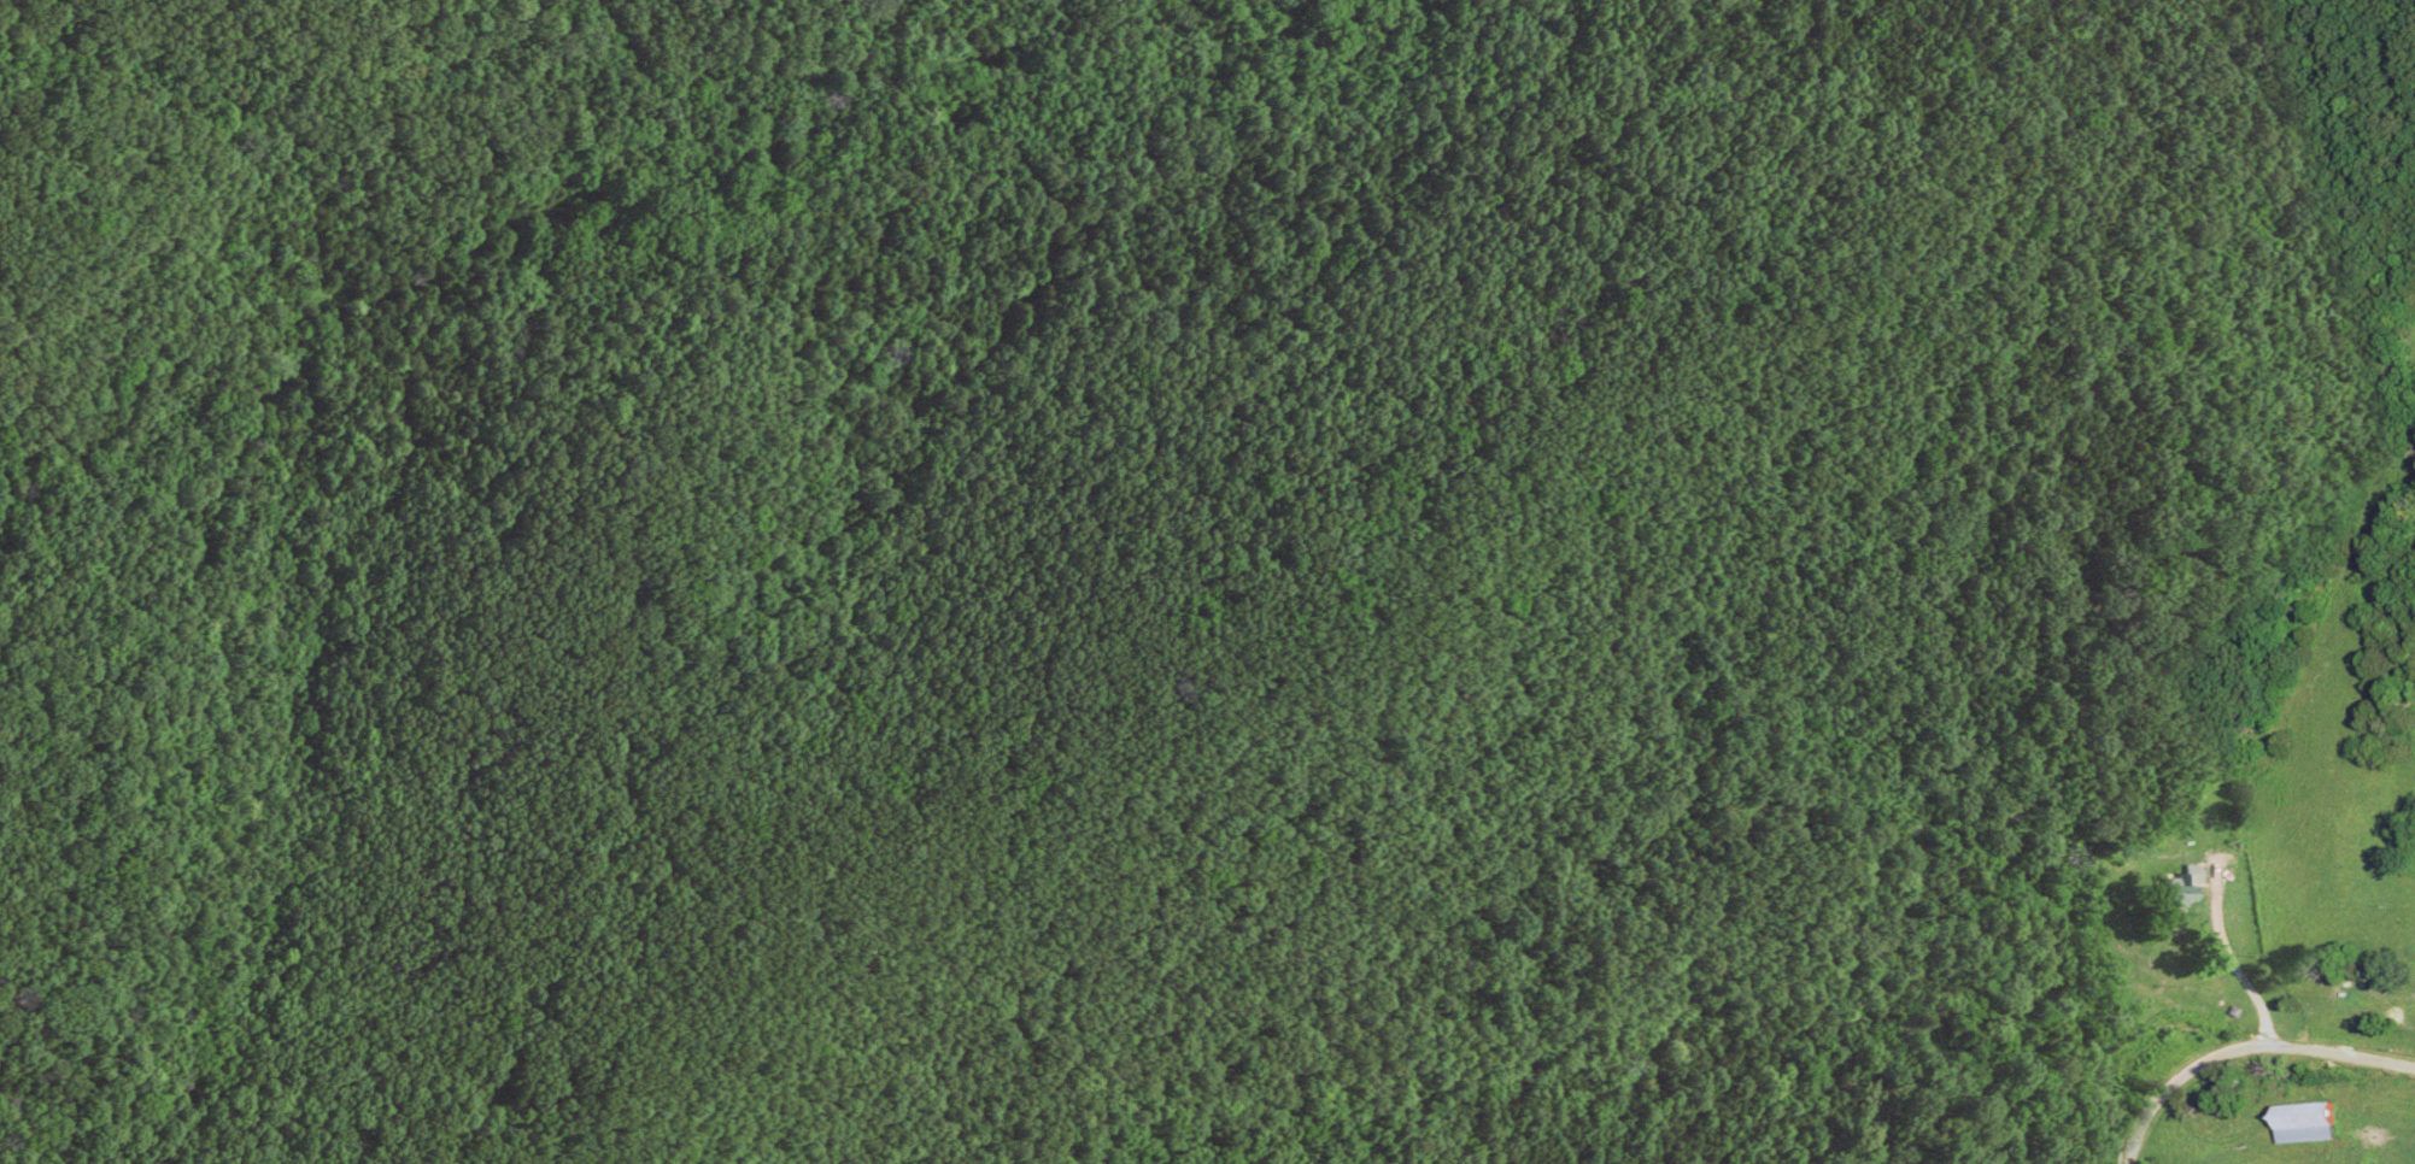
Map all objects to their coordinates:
road: (2234, 956)
road: (2241, 1047)
building: (2315, 1124)

